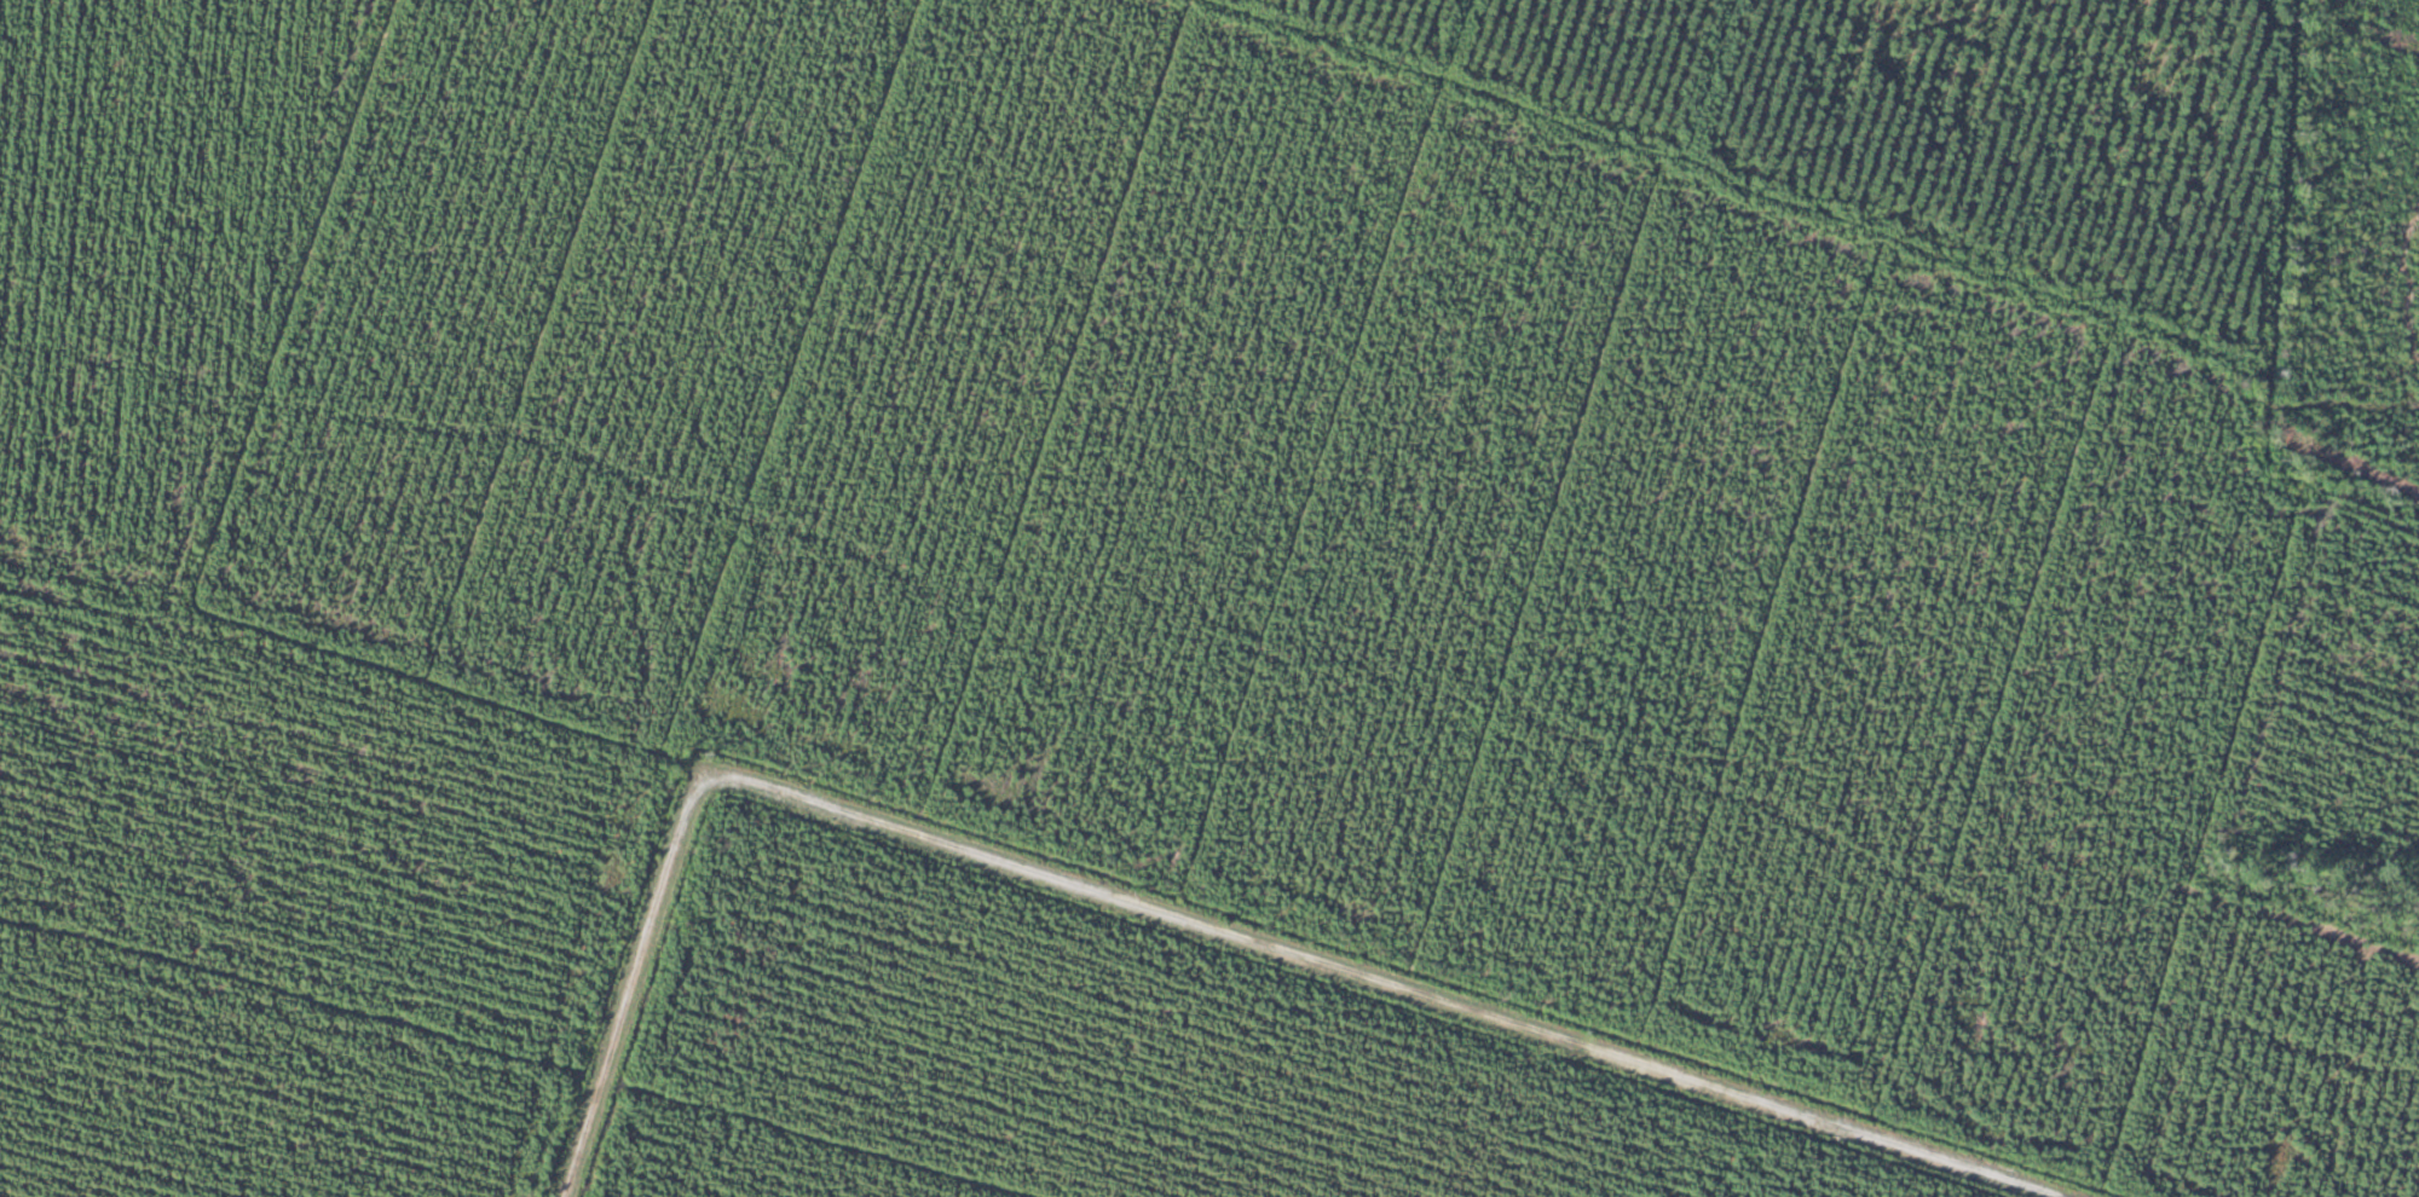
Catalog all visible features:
road: (1201, 896)

